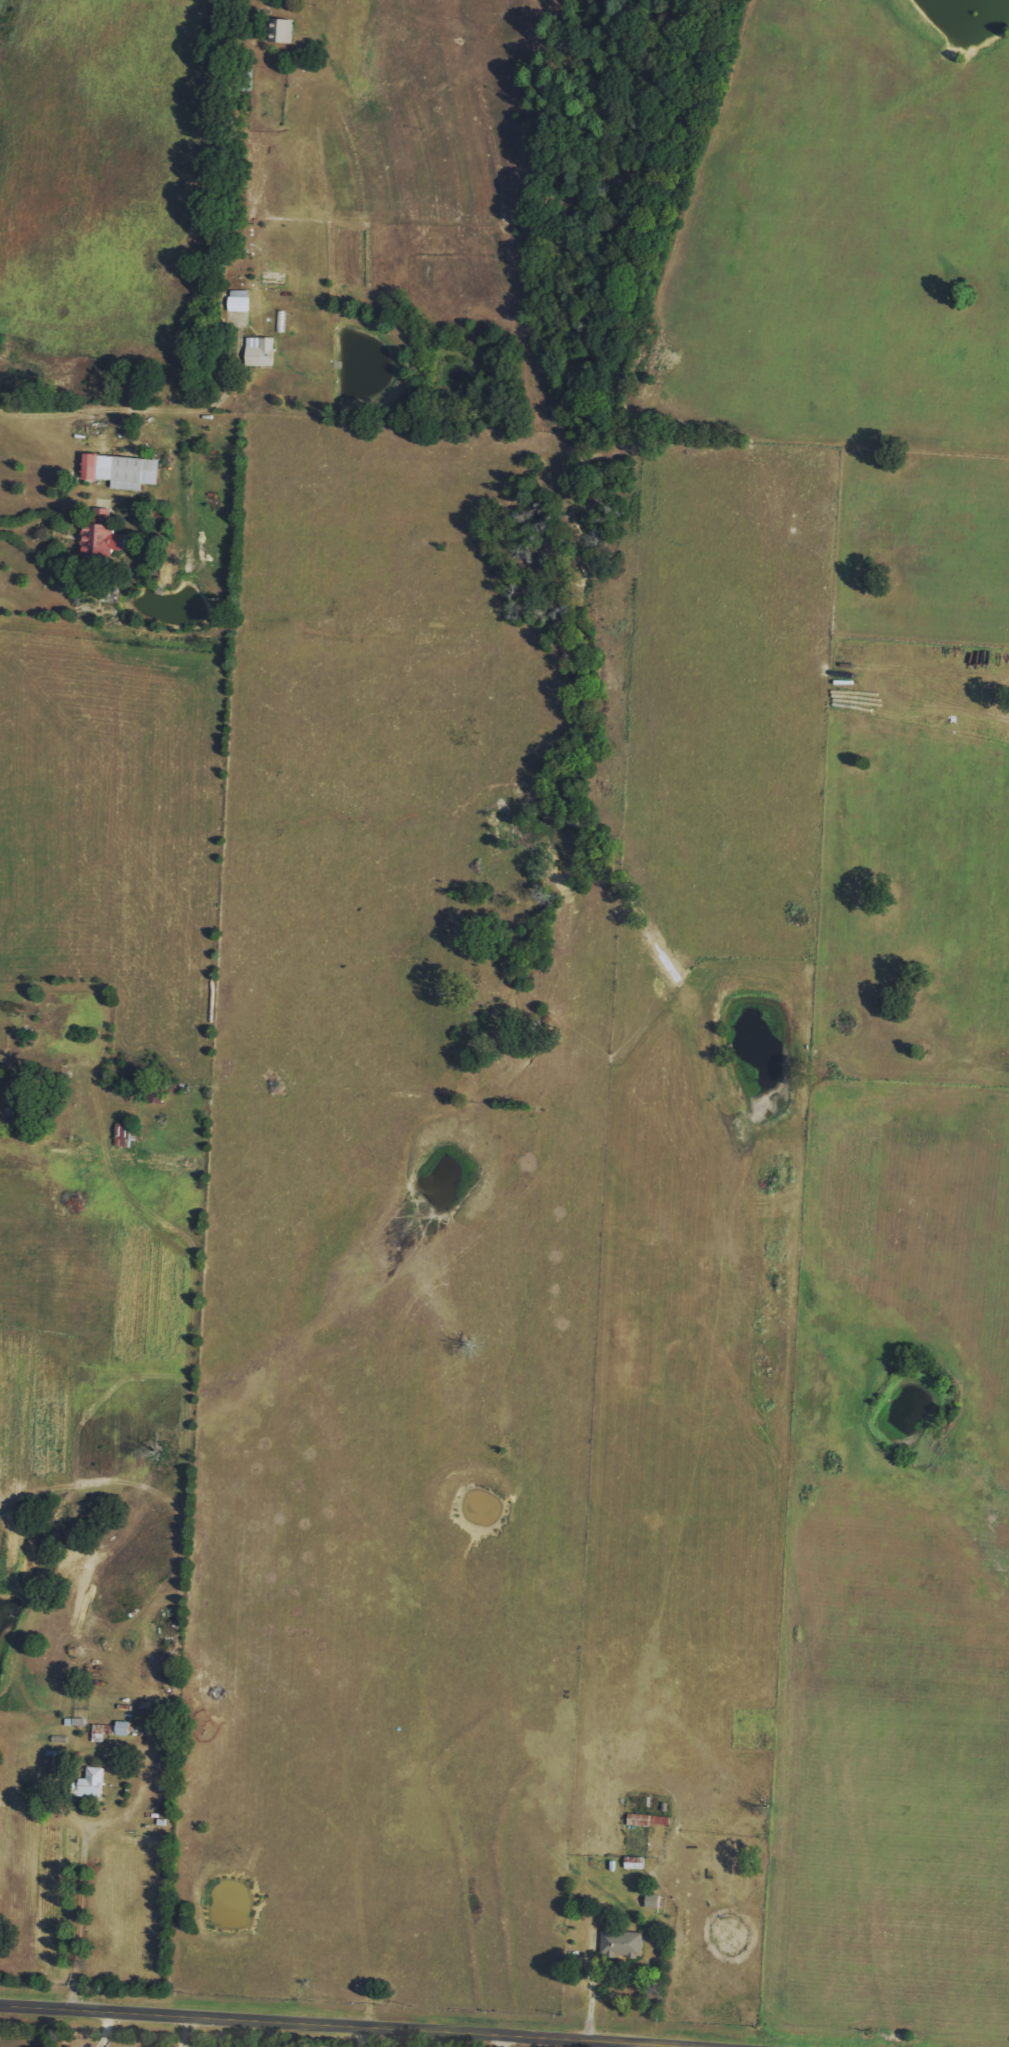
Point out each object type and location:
road: (253, 16)
building: (282, 30)
building: (238, 300)
building: (259, 352)
road: (61, 408)
building: (123, 471)
building: (101, 536)
building: (125, 1135)
building: (110, 1730)
building: (89, 1783)
building: (647, 1820)
building: (634, 1862)
road: (86, 1893)
building: (653, 1901)
building: (621, 1944)
road: (593, 1981)
road: (339, 2026)
road: (104, 2030)
road: (184, 2032)
road: (358, 2037)
road: (502, 2041)
road: (629, 2045)

